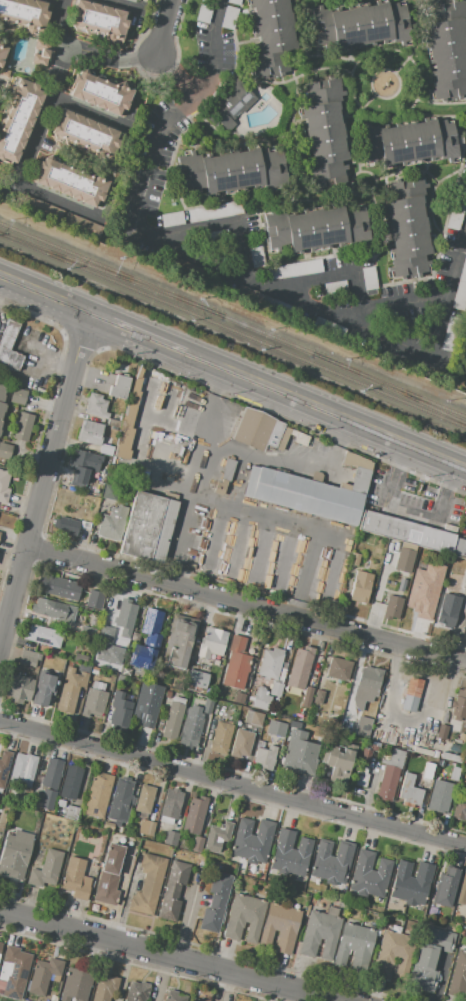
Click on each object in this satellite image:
building: (137, 0)
building: (139, 0)
road: (124, 4)
building: (23, 15)
building: (99, 20)
building: (357, 25)
road: (305, 27)
road: (165, 28)
parking lot: (214, 36)
road: (231, 37)
building: (272, 37)
road: (413, 39)
building: (446, 51)
building: (41, 52)
building: (2, 53)
road: (86, 53)
road: (304, 57)
road: (352, 61)
road: (225, 70)
road: (178, 77)
road: (272, 81)
building: (98, 91)
road: (440, 102)
building: (229, 104)
road: (199, 105)
road: (87, 111)
road: (435, 115)
building: (18, 118)
road: (40, 124)
road: (352, 128)
building: (324, 131)
building: (85, 133)
building: (406, 143)
road: (171, 156)
road: (405, 171)
building: (230, 172)
road: (353, 173)
building: (72, 180)
road: (323, 199)
road: (56, 200)
building: (217, 211)
building: (57, 215)
building: (313, 229)
road: (378, 229)
building: (408, 229)
road: (330, 254)
road: (202, 259)
parking lot: (296, 263)
railway: (104, 268)
railway: (104, 272)
railway: (93, 273)
road: (43, 298)
railway: (216, 314)
road: (135, 336)
railway: (268, 336)
building: (9, 347)
road: (409, 350)
railway: (326, 370)
railway: (389, 385)
building: (119, 387)
road: (215, 387)
railway: (389, 388)
building: (18, 397)
building: (2, 405)
building: (96, 406)
road: (319, 412)
building: (128, 413)
building: (23, 426)
building: (259, 431)
building: (90, 432)
building: (299, 437)
road: (339, 437)
building: (106, 450)
building: (4, 451)
road: (269, 459)
building: (81, 461)
building: (357, 461)
building: (117, 462)
building: (228, 469)
road: (460, 470)
road: (394, 474)
building: (99, 477)
road: (42, 478)
building: (359, 481)
building: (89, 485)
building: (3, 486)
building: (220, 487)
building: (110, 493)
building: (302, 495)
road: (189, 497)
building: (83, 502)
building: (91, 514)
road: (435, 515)
building: (111, 522)
road: (300, 523)
building: (66, 526)
building: (148, 527)
building: (404, 532)
building: (389, 548)
building: (458, 548)
building: (354, 559)
building: (405, 560)
building: (401, 584)
building: (465, 586)
building: (361, 587)
building: (61, 588)
building: (423, 590)
building: (95, 600)
building: (393, 609)
building: (53, 610)
building: (448, 610)
road: (244, 612)
building: (125, 618)
building: (90, 631)
building: (42, 636)
building: (147, 640)
building: (179, 641)
building: (212, 643)
building: (108, 654)
building: (29, 658)
building: (80, 658)
building: (236, 663)
building: (270, 663)
building: (300, 668)
building: (339, 669)
building: (197, 679)
building: (97, 686)
building: (70, 687)
building: (367, 687)
building: (19, 689)
building: (43, 689)
building: (276, 689)
building: (411, 695)
building: (307, 697)
building: (240, 698)
building: (261, 699)
building: (318, 699)
building: (146, 700)
building: (93, 703)
building: (459, 705)
building: (206, 706)
building: (120, 709)
building: (368, 711)
building: (271, 713)
building: (315, 714)
building: (253, 718)
building: (173, 720)
building: (294, 725)
building: (276, 728)
building: (363, 728)
building: (343, 729)
building: (190, 732)
building: (442, 732)
building: (221, 737)
building: (240, 743)
building: (454, 748)
building: (429, 753)
building: (451, 753)
building: (300, 754)
building: (265, 757)
building: (336, 762)
building: (442, 762)
building: (4, 766)
building: (362, 768)
building: (23, 769)
building: (51, 774)
building: (429, 774)
building: (454, 775)
building: (390, 776)
building: (70, 782)
road: (233, 784)
building: (409, 792)
building: (121, 794)
building: (97, 795)
building: (439, 796)
building: (0, 798)
building: (144, 800)
building: (47, 801)
building: (171, 805)
building: (460, 806)
building: (70, 813)
building: (194, 816)
building: (145, 828)
building: (1, 830)
building: (169, 838)
building: (217, 838)
building: (252, 841)
building: (197, 845)
building: (15, 854)
building: (290, 855)
building: (214, 860)
building: (332, 862)
building: (45, 870)
building: (108, 875)
building: (369, 875)
building: (75, 879)
building: (411, 882)
building: (148, 885)
building: (445, 887)
building: (259, 888)
building: (462, 890)
building: (172, 891)
building: (323, 901)
building: (215, 903)
building: (332, 911)
building: (357, 913)
building: (369, 917)
building: (244, 918)
building: (465, 921)
road: (187, 922)
building: (280, 928)
building: (319, 935)
building: (0, 942)
building: (0, 946)
building: (354, 948)
building: (394, 955)
road: (167, 957)
building: (429, 959)
building: (13, 966)
building: (43, 976)
building: (458, 977)
building: (74, 984)
building: (104, 988)
building: (136, 992)
building: (174, 996)
building: (195, 1000)

